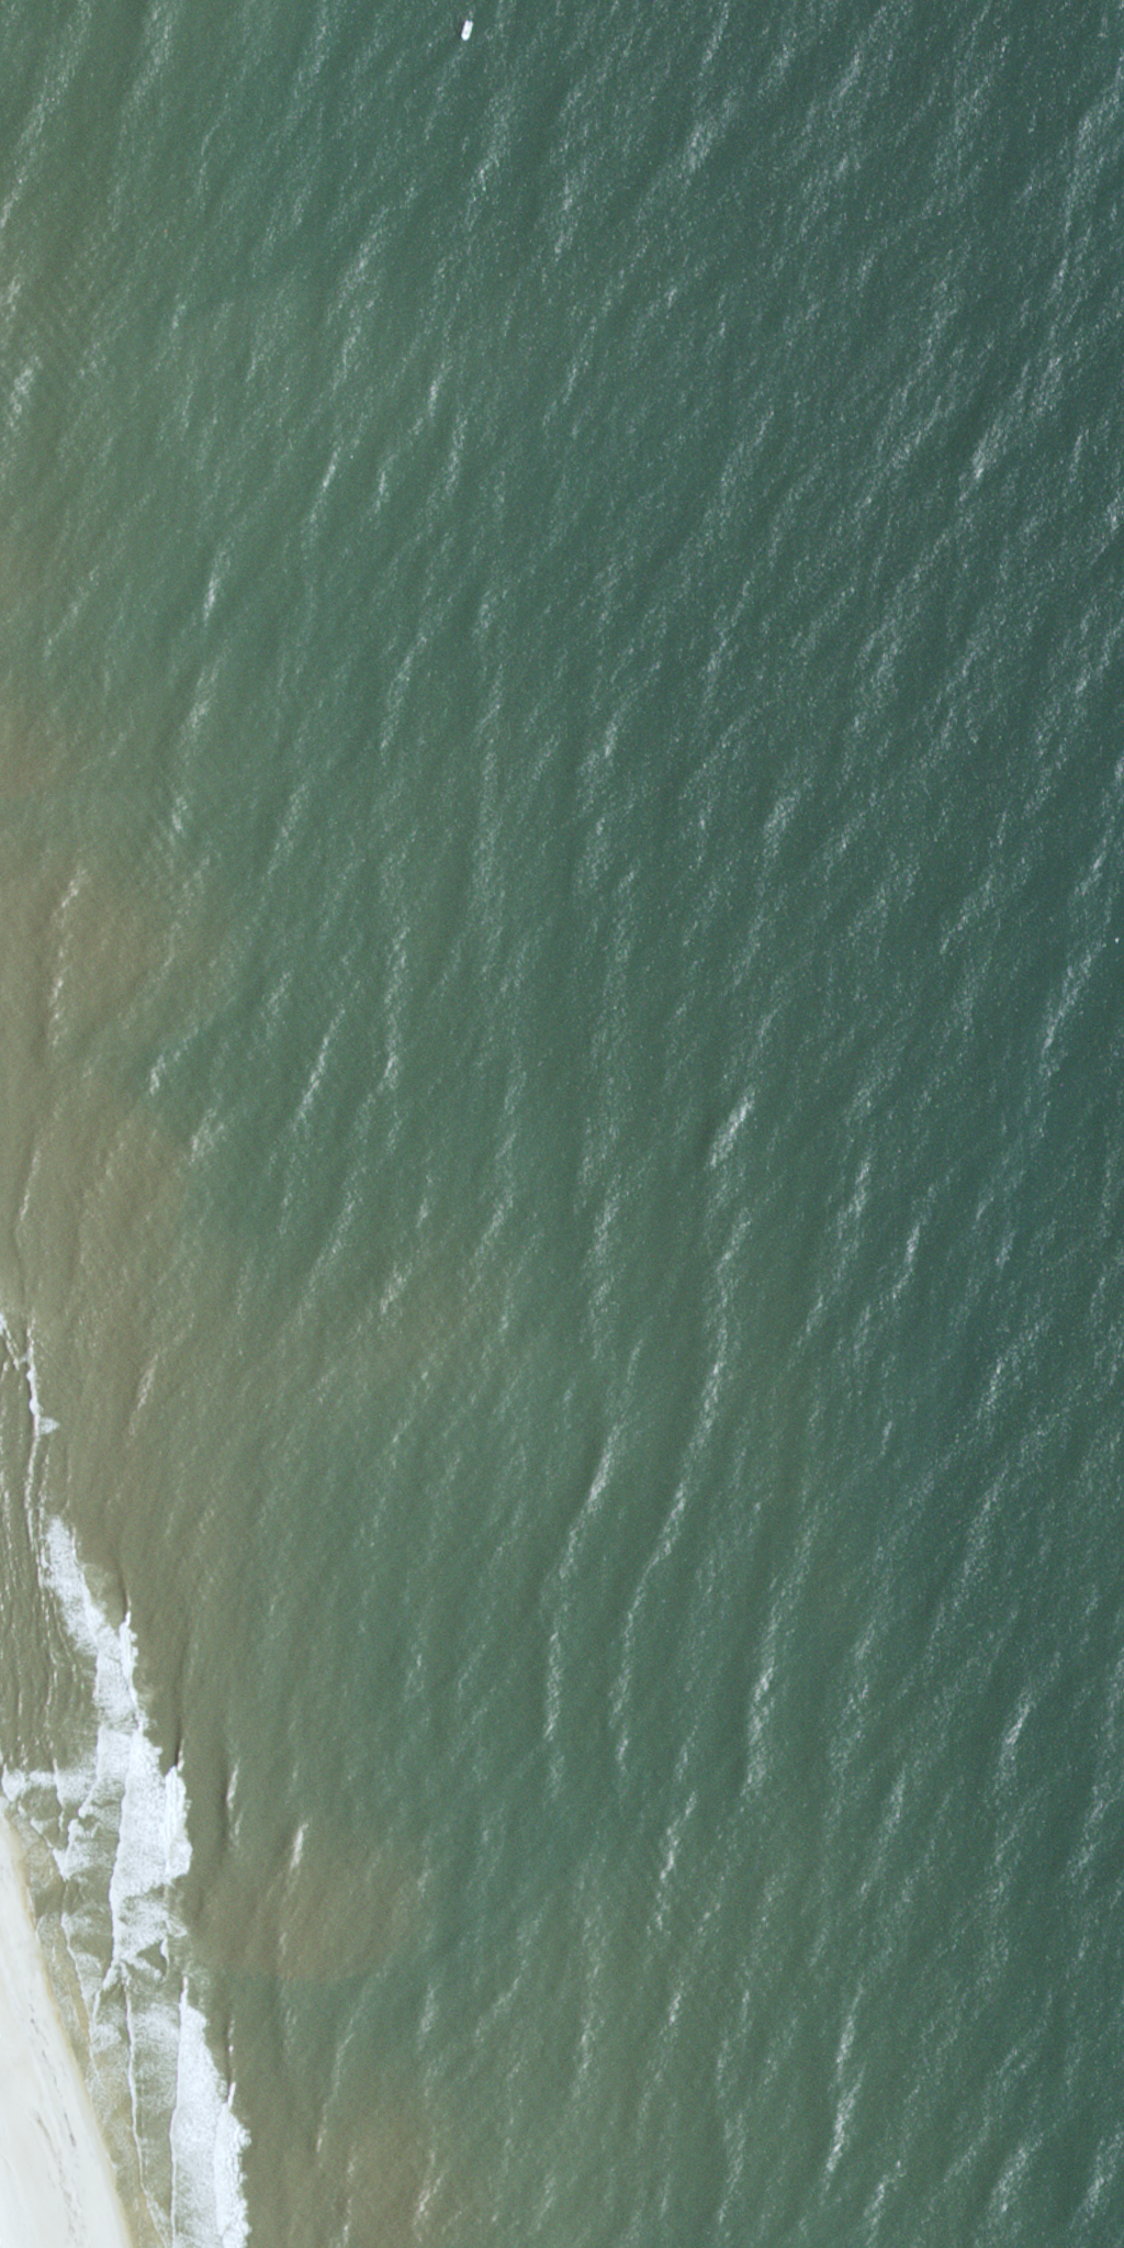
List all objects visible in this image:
road: (34, 2118)

